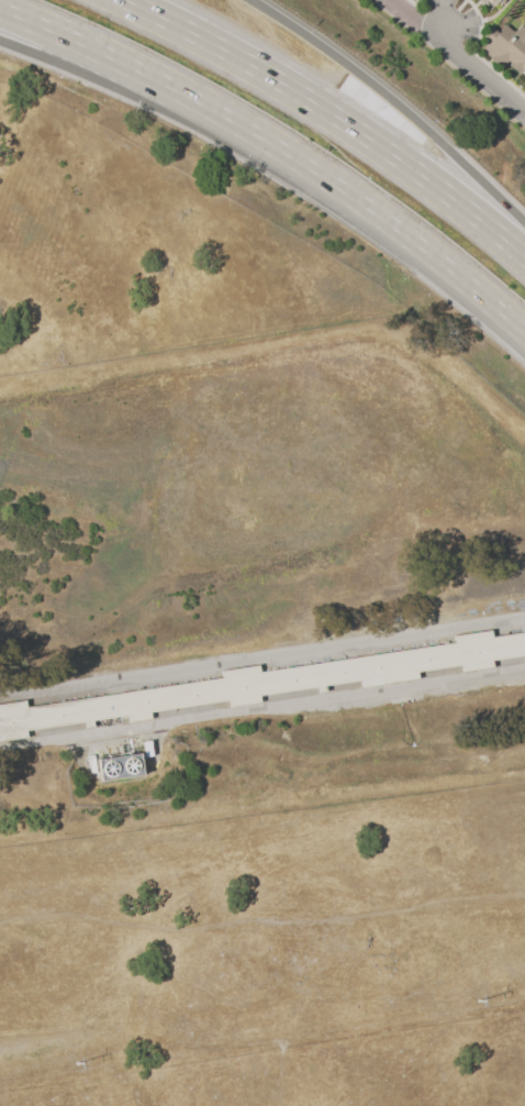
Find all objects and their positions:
building: (491, 1)
road: (414, 18)
building: (505, 47)
road: (479, 68)
road: (394, 100)
road: (335, 114)
road: (200, 125)
road: (277, 150)
road: (262, 657)
building: (264, 684)
road: (261, 709)
building: (148, 751)
building: (92, 766)
building: (122, 768)

